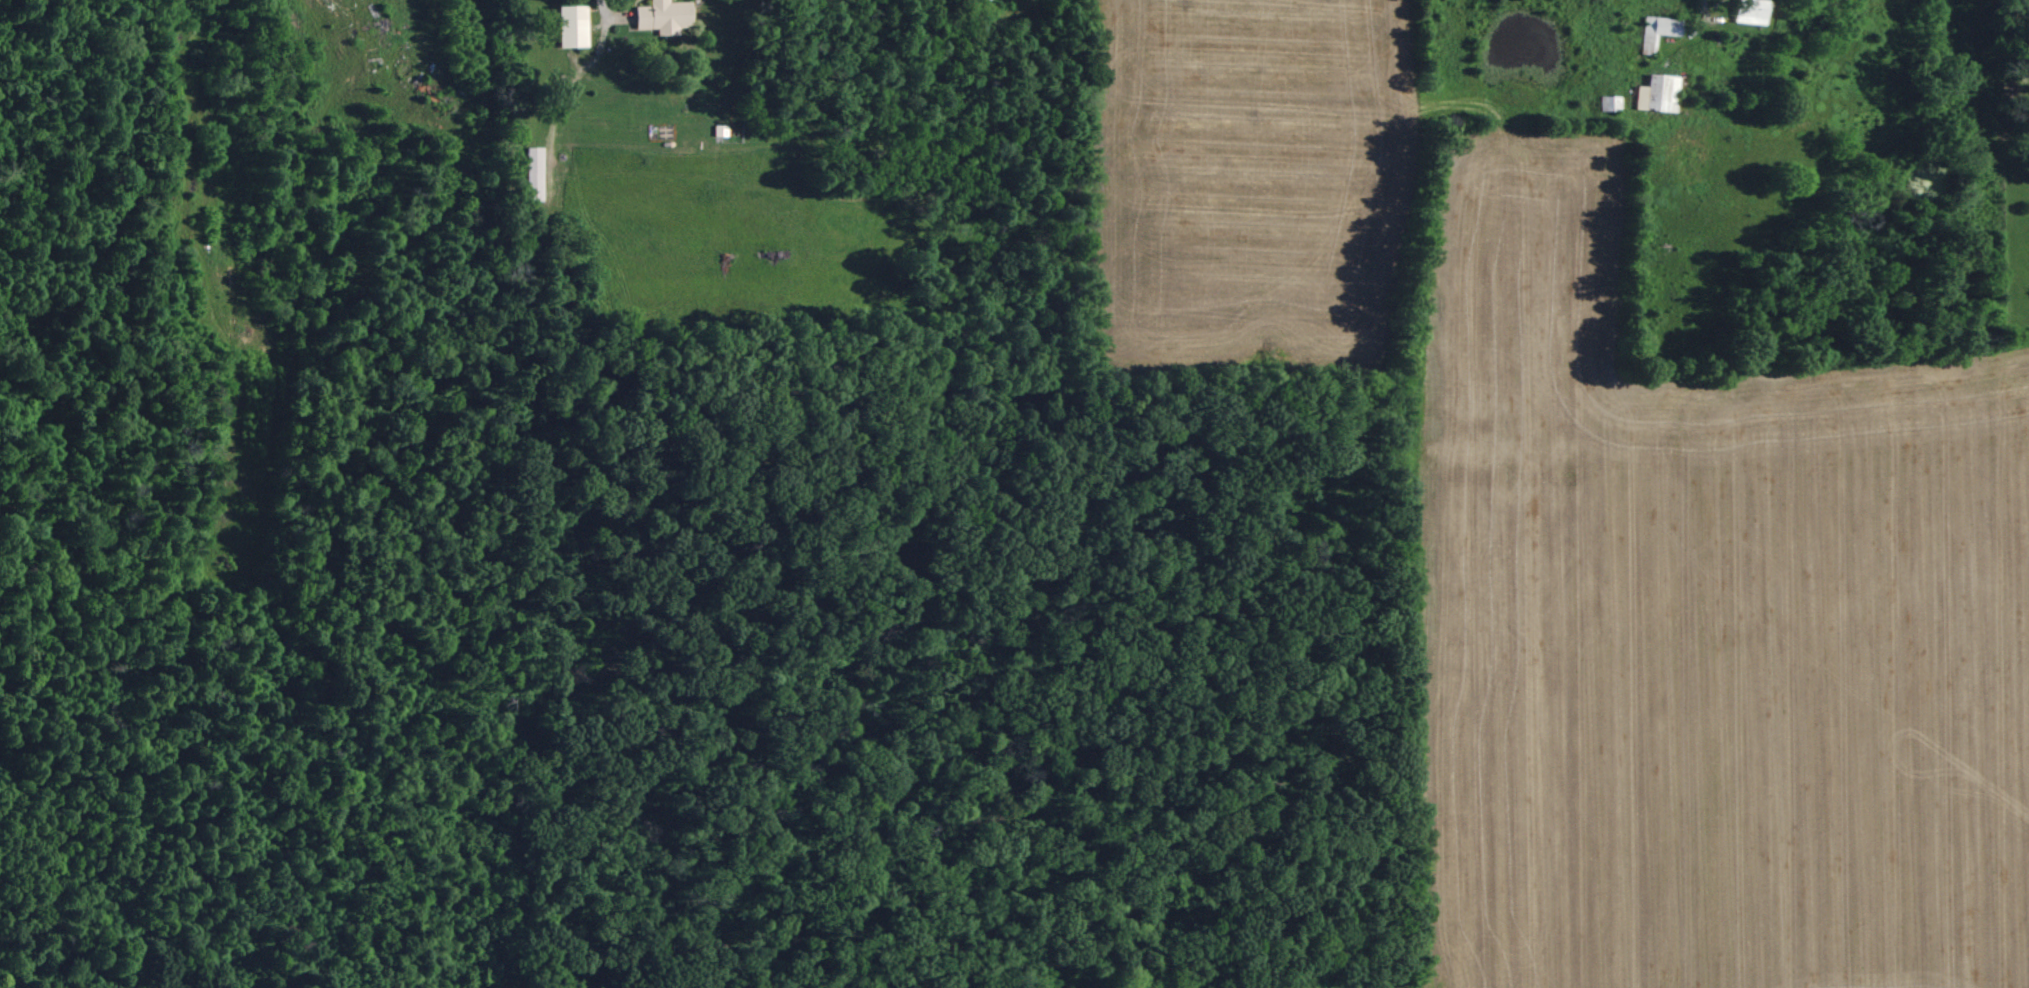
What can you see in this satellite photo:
building: (1751, 11)
road: (592, 15)
building: (663, 16)
building: (571, 26)
building: (1657, 30)
building: (1657, 93)

